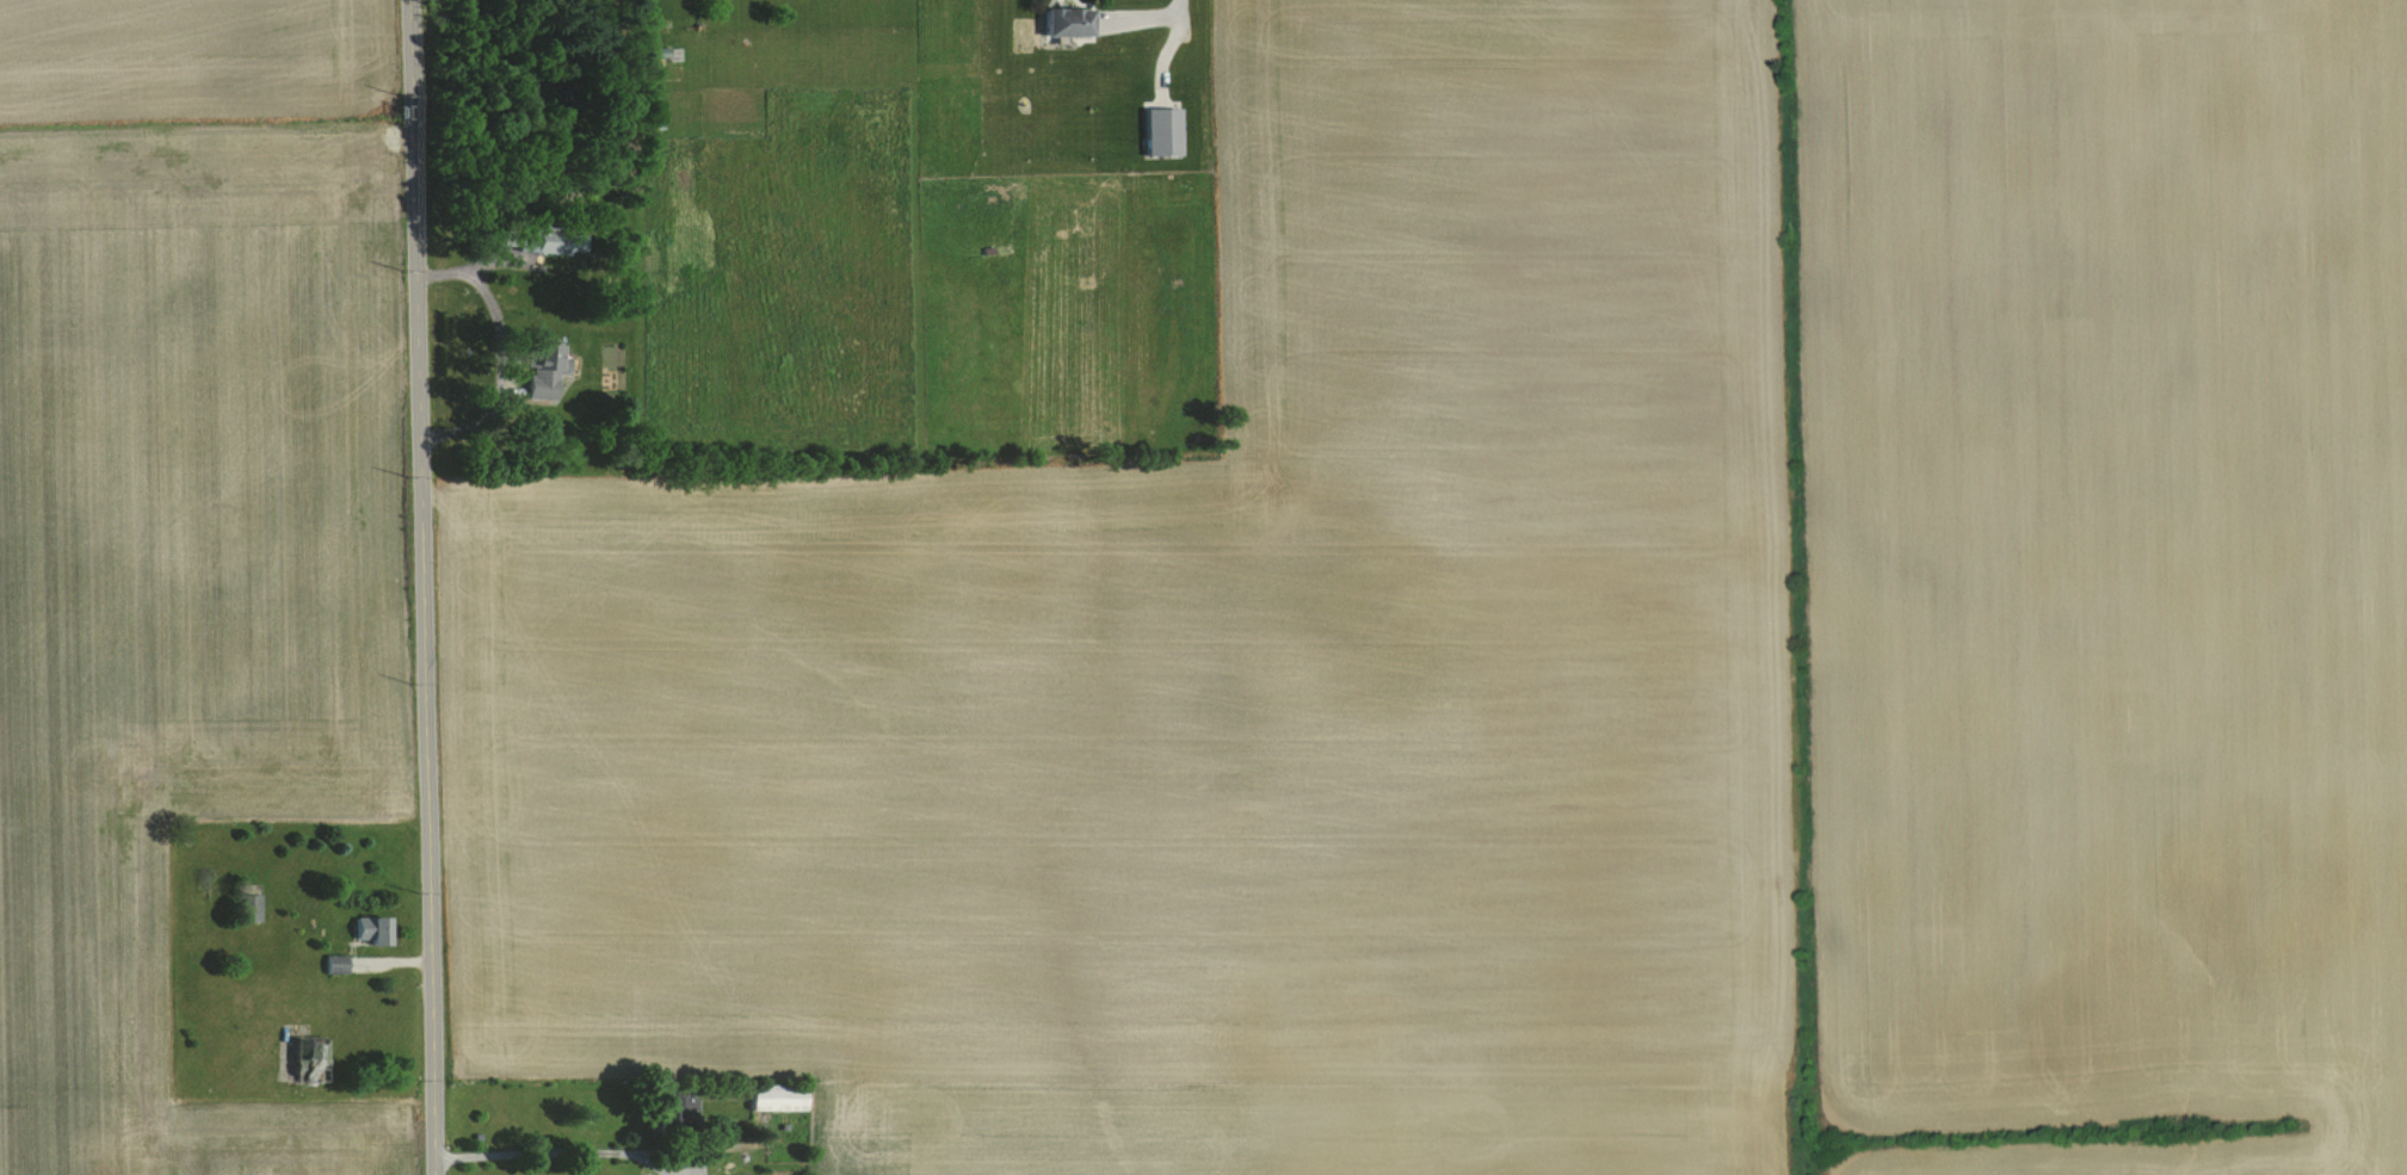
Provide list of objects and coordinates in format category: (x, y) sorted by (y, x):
building: (1068, 20)
building: (553, 240)
building: (545, 367)
road: (419, 587)
building: (248, 905)
building: (372, 929)
building: (337, 963)
building: (313, 1059)
building: (778, 1096)
building: (679, 1109)

